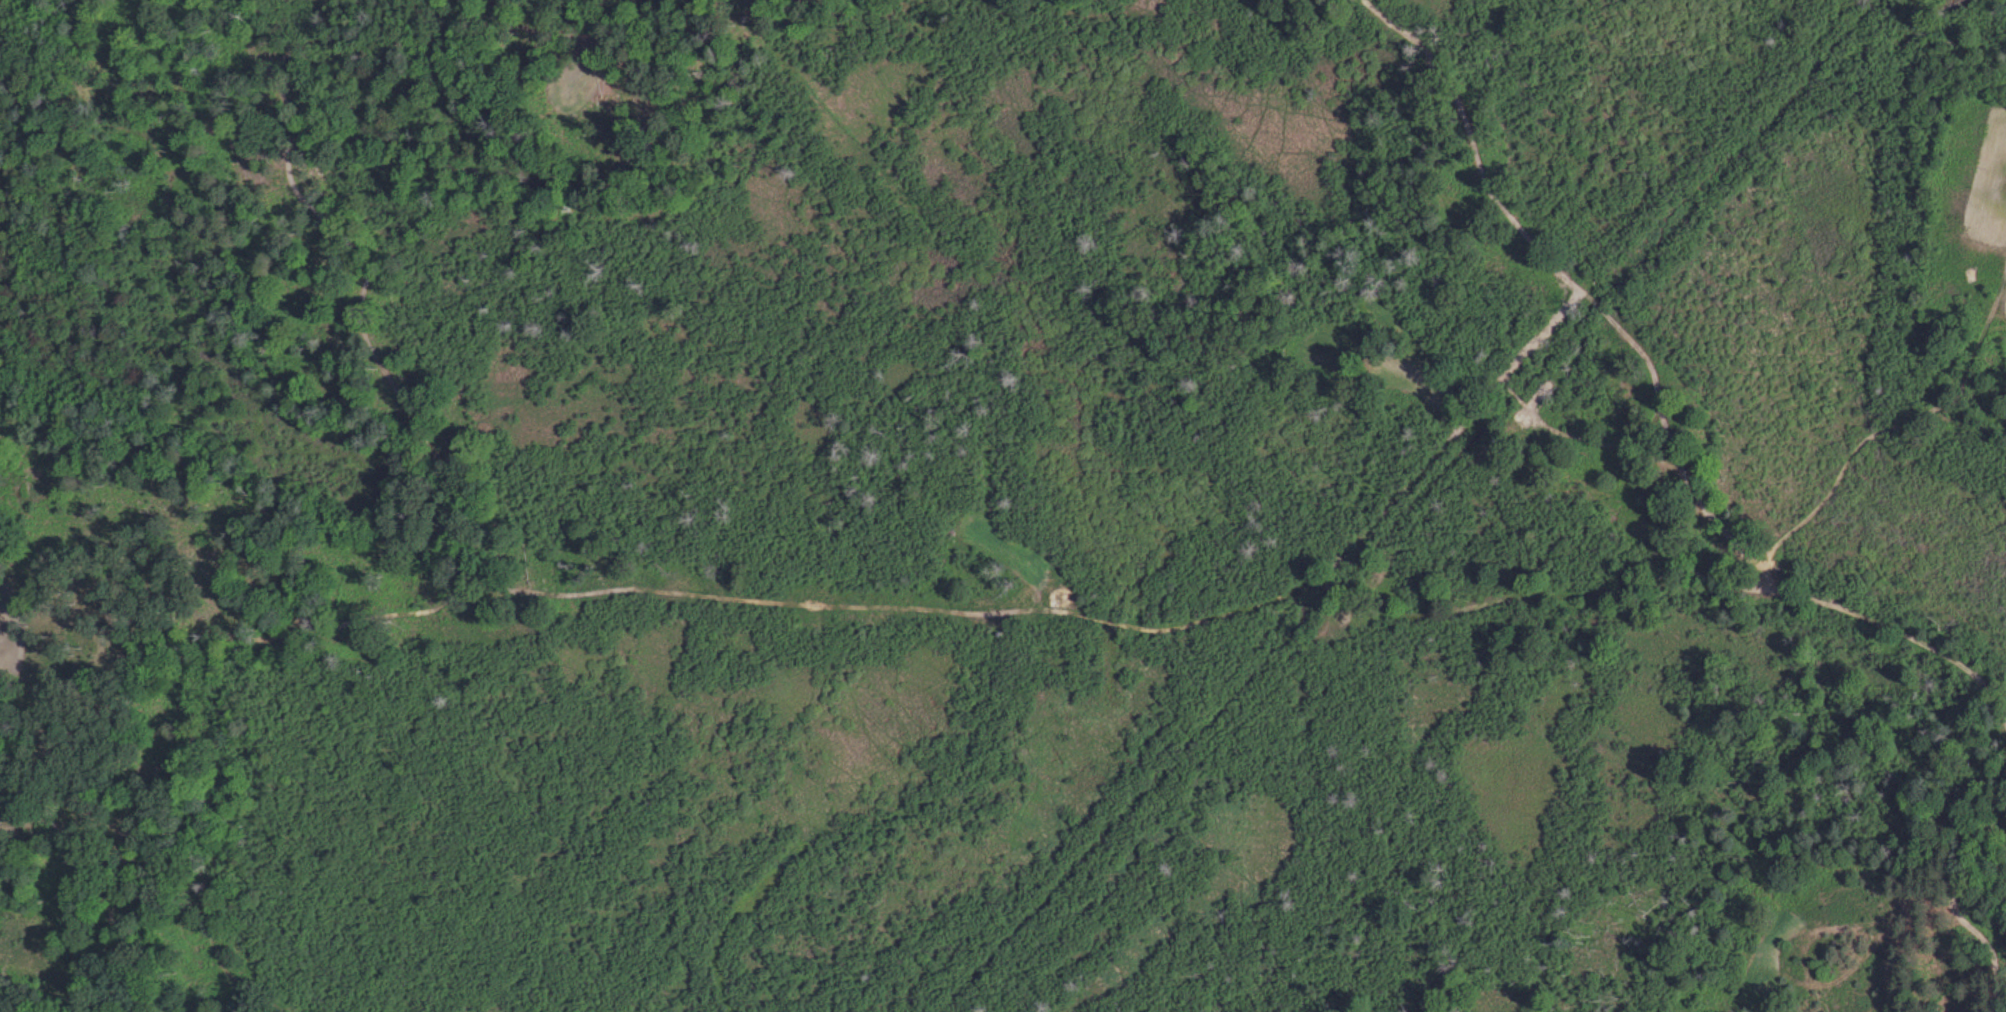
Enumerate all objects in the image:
road: (1697, 574)
road: (1339, 587)
road: (948, 609)
road: (17, 638)
road: (188, 769)
road: (1956, 901)

